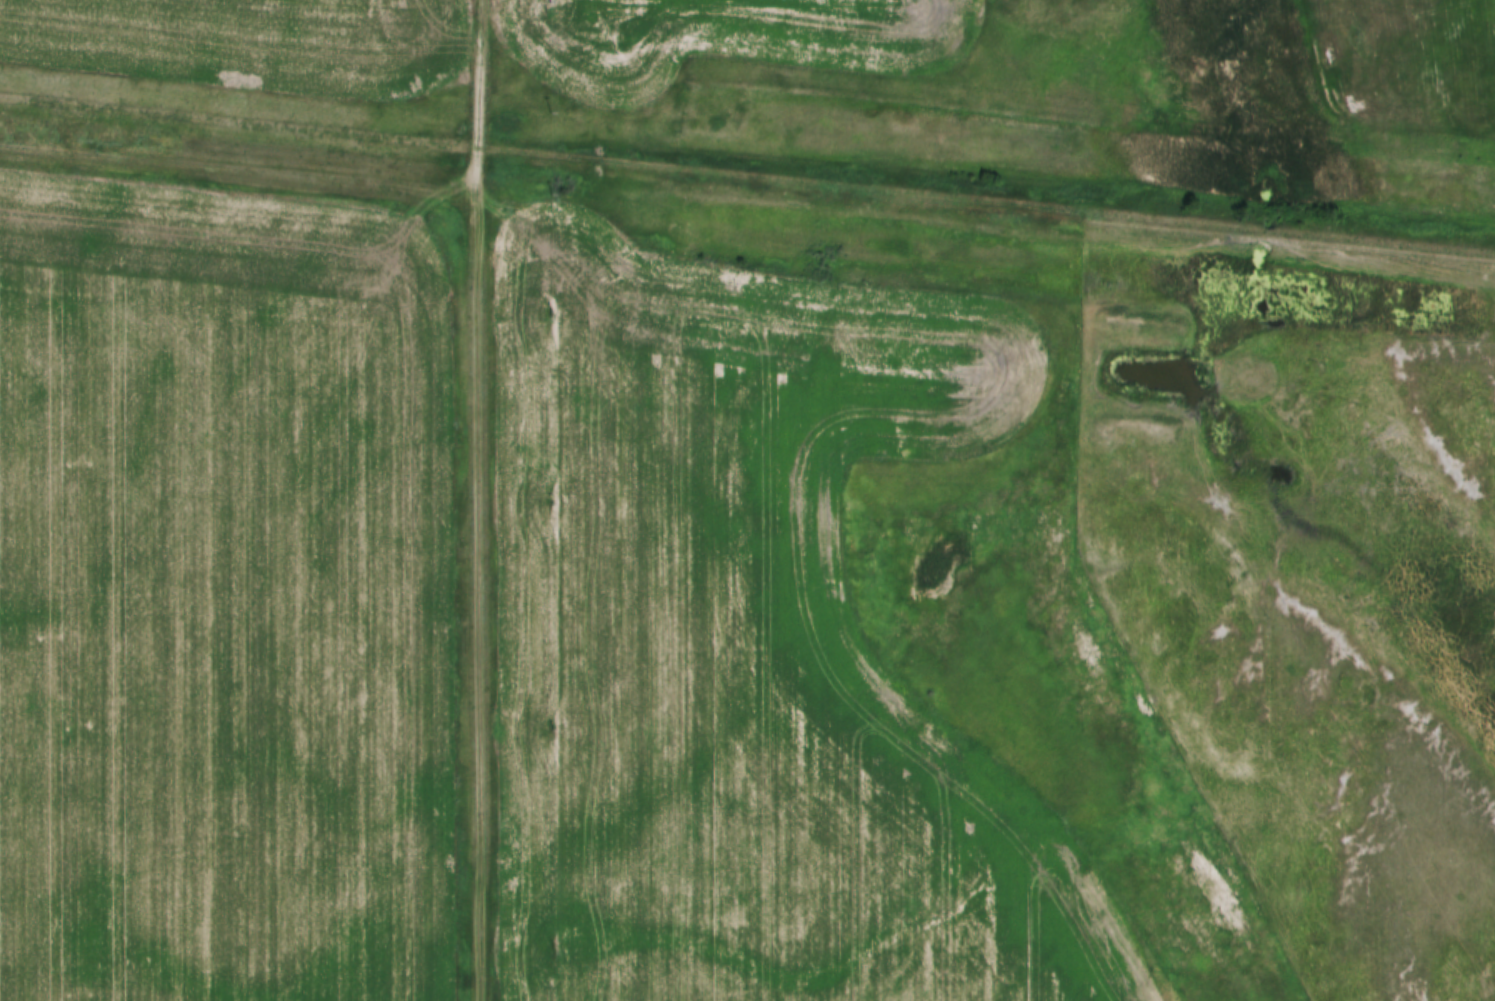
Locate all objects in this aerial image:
road: (480, 500)

